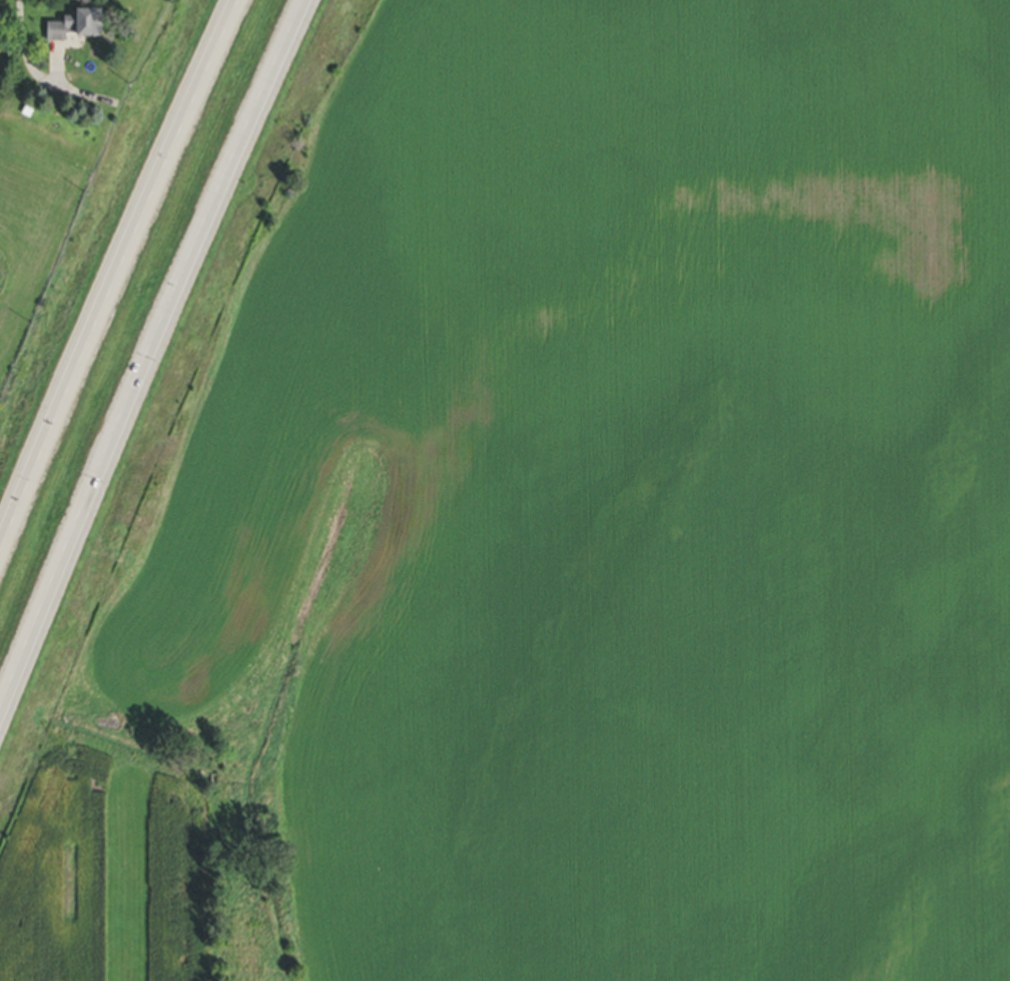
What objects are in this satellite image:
building: (70, 25)
road: (24, 53)
road: (111, 265)
road: (148, 353)

